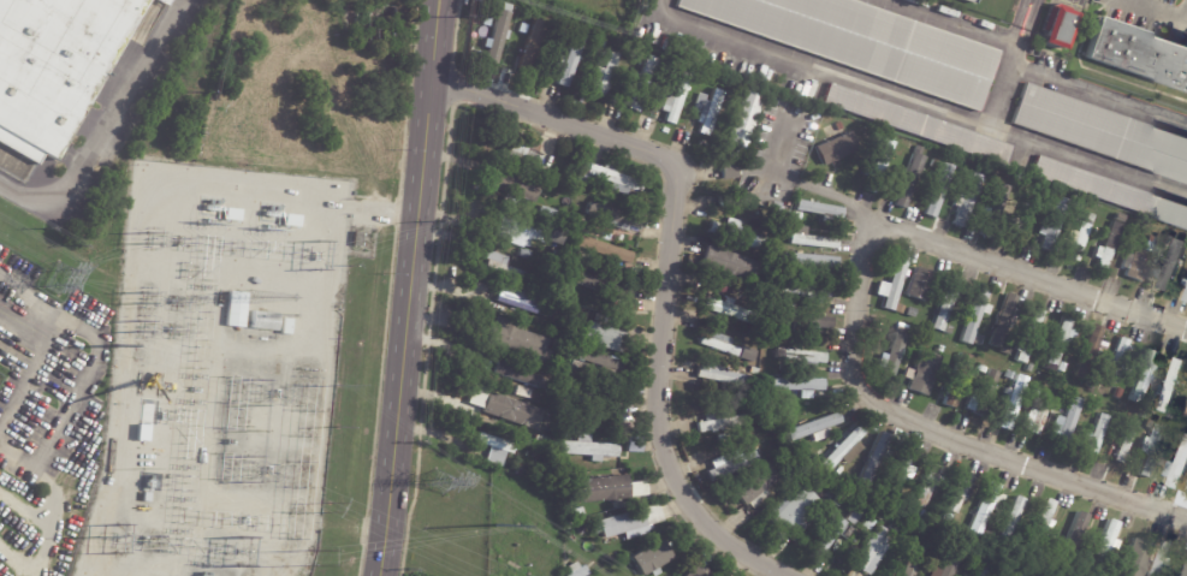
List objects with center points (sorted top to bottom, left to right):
building: (971, 1)
road: (1156, 7)
road: (1186, 12)
road: (949, 22)
road: (1016, 22)
road: (1029, 23)
building: (1061, 28)
building: (495, 36)
building: (866, 42)
building: (530, 44)
building: (601, 44)
building: (630, 53)
building: (1139, 53)
building: (512, 60)
building: (569, 61)
building: (648, 63)
building: (58, 66)
building: (671, 73)
building: (605, 75)
building: (635, 79)
building: (699, 79)
road: (865, 83)
building: (740, 87)
road: (1099, 96)
building: (676, 97)
building: (706, 111)
building: (747, 113)
building: (919, 125)
building: (839, 126)
road: (108, 129)
building: (669, 129)
building: (1102, 132)
building: (837, 150)
building: (521, 154)
road: (1090, 162)
building: (933, 164)
building: (879, 166)
building: (731, 171)
building: (610, 177)
building: (909, 182)
building: (515, 184)
building: (546, 186)
building: (936, 191)
building: (1111, 191)
building: (1029, 198)
building: (966, 201)
building: (774, 204)
building: (998, 204)
building: (1051, 204)
building: (1076, 204)
building: (820, 209)
building: (1040, 212)
building: (493, 213)
building: (796, 214)
building: (767, 215)
building: (613, 216)
building: (1121, 218)
building: (1023, 222)
building: (1052, 225)
building: (790, 228)
building: (1136, 231)
building: (987, 232)
building: (526, 233)
building: (735, 234)
power tower: (147, 237)
building: (1078, 237)
building: (811, 238)
building: (357, 239)
building: (1169, 241)
building: (1110, 247)
building: (606, 250)
building: (524, 253)
building: (559, 253)
power tower: (315, 254)
building: (584, 257)
building: (809, 260)
building: (643, 265)
building: (1138, 265)
building: (504, 267)
road: (673, 267)
building: (725, 267)
building: (1169, 267)
power tower: (58, 275)
building: (894, 284)
building: (921, 284)
building: (603, 286)
road: (410, 287)
road: (34, 290)
building: (808, 290)
power tower: (142, 295)
building: (517, 297)
building: (1186, 298)
building: (789, 299)
building: (945, 304)
building: (546, 307)
building: (237, 308)
building: (731, 310)
building: (912, 311)
building: (975, 315)
road: (857, 317)
building: (265, 320)
building: (1004, 320)
building: (806, 321)
power tower: (141, 325)
building: (285, 325)
building: (949, 329)
building: (787, 332)
building: (756, 333)
building: (604, 335)
building: (1029, 335)
building: (515, 339)
building: (720, 343)
building: (1060, 343)
power tower: (118, 346)
building: (1007, 350)
building: (1090, 351)
building: (748, 354)
building: (892, 355)
building: (802, 357)
building: (1120, 357)
building: (599, 363)
building: (785, 367)
building: (1029, 368)
building: (570, 369)
building: (981, 369)
road: (31, 370)
building: (925, 372)
building: (1145, 373)
power substation: (219, 374)
building: (1010, 374)
building: (521, 375)
building: (724, 375)
building: (957, 380)
building: (1091, 382)
building: (1108, 384)
building: (797, 385)
building: (1173, 385)
power tower: (337, 386)
building: (563, 387)
building: (523, 391)
building: (984, 393)
building: (1117, 393)
building: (1067, 396)
road: (70, 400)
building: (595, 402)
building: (1013, 402)
building: (1096, 404)
building: (511, 410)
building: (1186, 412)
building: (1039, 414)
building: (1127, 415)
building: (764, 418)
building: (719, 421)
building: (1067, 421)
building: (563, 423)
building: (159, 427)
building: (817, 427)
building: (562, 433)
building: (1096, 434)
building: (722, 437)
building: (547, 440)
building: (556, 444)
building: (635, 444)
building: (1124, 446)
building: (495, 447)
building: (589, 447)
building: (845, 450)
building: (1151, 450)
building: (876, 458)
building: (153, 462)
building: (556, 462)
building: (731, 467)
building: (1180, 468)
building: (521, 469)
building: (789, 474)
building: (901, 479)
power tower: (441, 483)
building: (932, 485)
building: (756, 486)
building: (611, 488)
building: (960, 492)
building: (1186, 492)
building: (831, 494)
building: (146, 497)
building: (902, 497)
building: (842, 500)
power tower: (326, 506)
building: (986, 507)
building: (800, 510)
building: (578, 511)
building: (921, 511)
building: (857, 513)
building: (831, 517)
building: (1013, 518)
building: (630, 521)
building: (1044, 524)
power tower: (494, 525)
building: (595, 530)
building: (849, 532)
building: (832, 535)
building: (989, 535)
power tower: (96, 536)
building: (1074, 538)
building: (926, 539)
building: (1105, 545)
building: (874, 550)
building: (1138, 556)
power tower: (307, 558)
building: (1031, 558)
building: (1163, 558)
building: (645, 560)
building: (916, 560)
building: (566, 563)
building: (955, 563)
building: (987, 566)
building: (830, 569)
building: (1031, 569)
building: (580, 571)
building: (696, 571)
building: (1185, 572)
building: (967, 575)
building: (969, 575)
building: (1019, 575)
building: (1023, 575)
building: (1061, 575)

